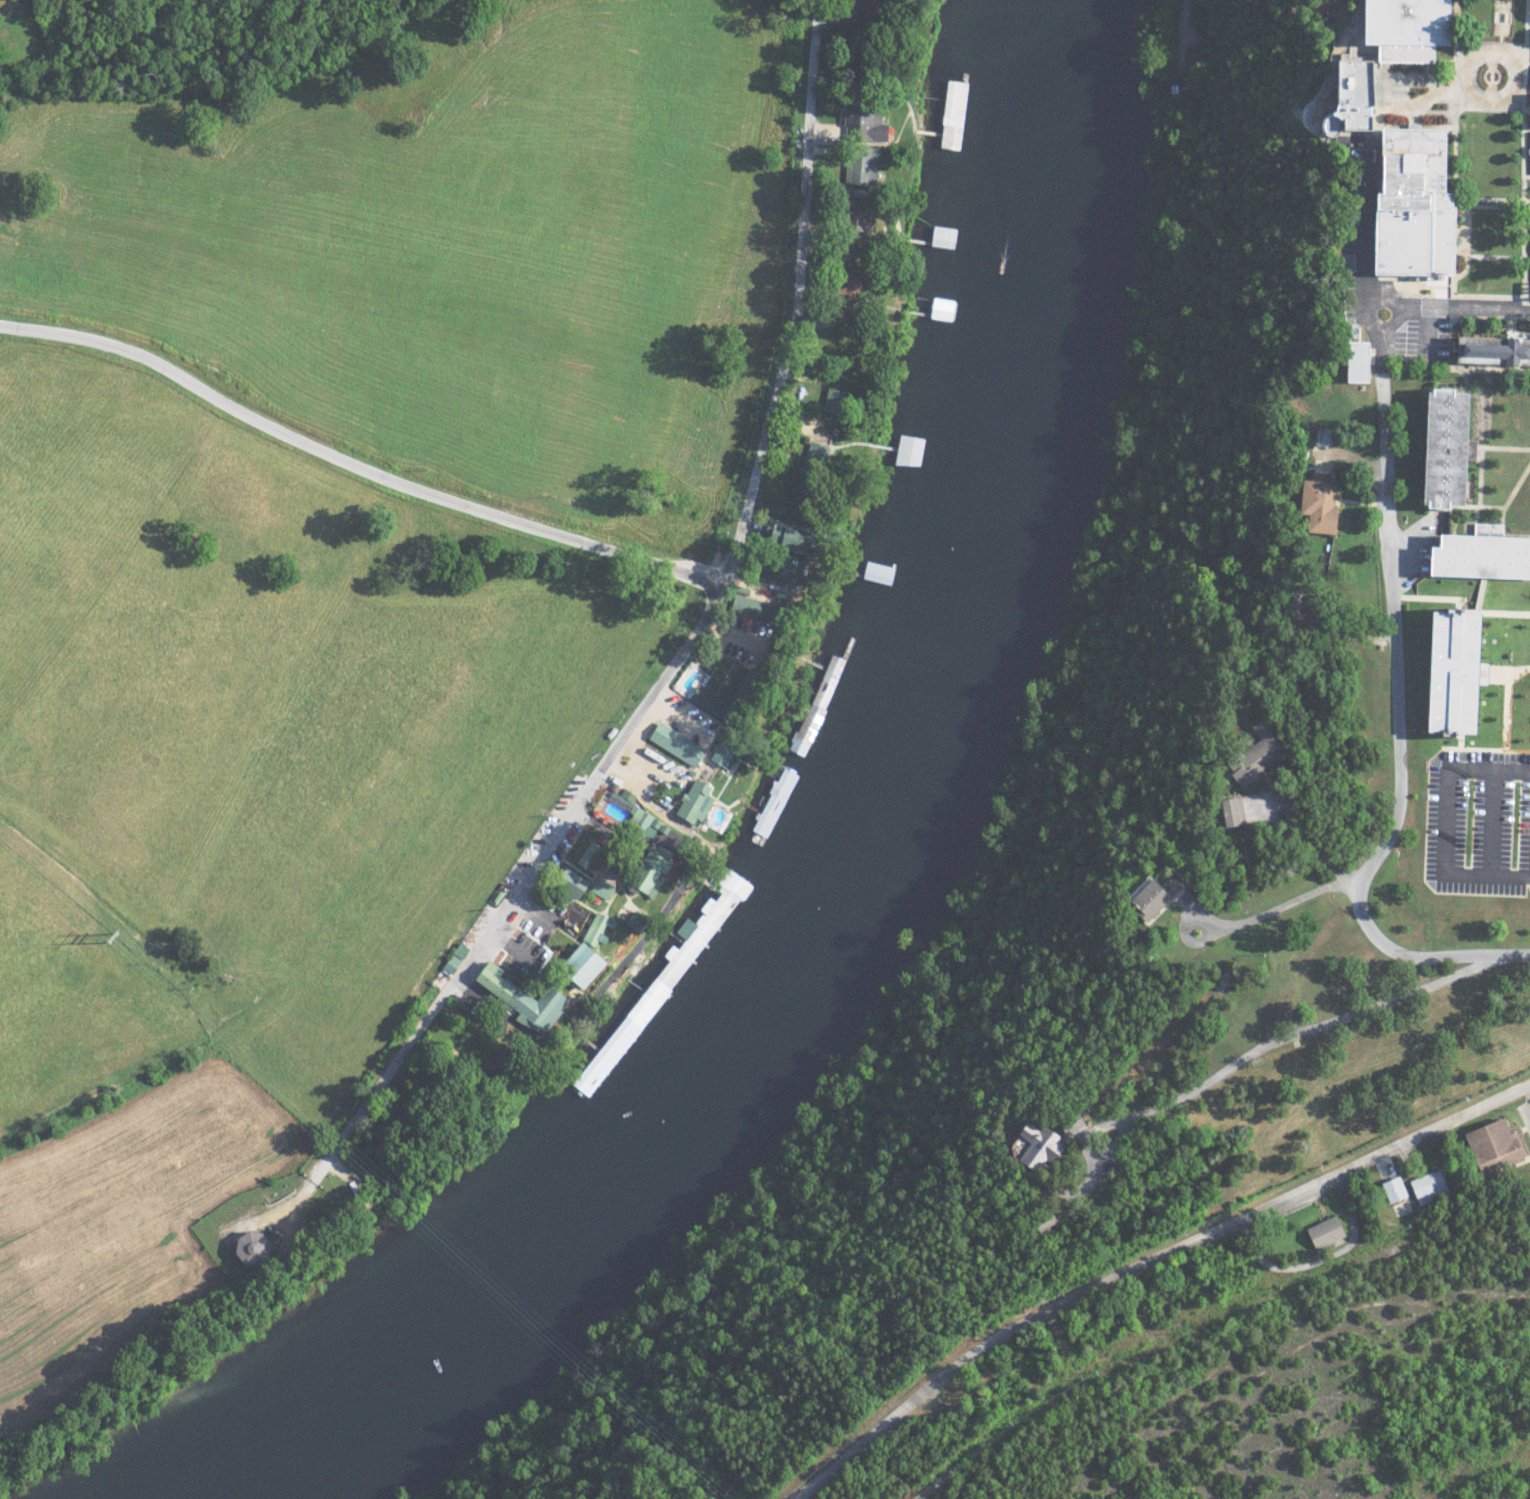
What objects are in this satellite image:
building: (1395, 28)
building: (1342, 94)
building: (1527, 111)
building: (860, 125)
building: (858, 165)
building: (1400, 203)
building: (851, 221)
road: (1365, 230)
road: (1463, 308)
road: (1396, 317)
road: (1513, 330)
building: (1497, 347)
building: (1350, 360)
road: (1512, 363)
road: (1484, 440)
road: (1502, 440)
building: (1452, 446)
building: (814, 450)
building: (906, 450)
road: (356, 466)
road: (1516, 480)
road: (1479, 489)
building: (1314, 502)
road: (1478, 509)
road: (1489, 516)
building: (1491, 523)
road: (1518, 526)
building: (781, 536)
building: (1481, 551)
building: (785, 579)
road: (1469, 603)
road: (1485, 607)
road: (693, 642)
road: (1505, 659)
building: (1455, 667)
road: (1522, 669)
road: (1506, 708)
road: (1397, 718)
road: (1483, 738)
building: (673, 744)
building: (718, 754)
building: (1252, 755)
building: (691, 803)
building: (772, 804)
building: (1228, 811)
parking lot: (1476, 813)
road: (1491, 815)
building: (631, 816)
road: (1444, 816)
river: (859, 872)
building: (645, 874)
building: (567, 883)
building: (734, 886)
building: (597, 888)
building: (1149, 897)
road: (1284, 899)
building: (594, 930)
power tower: (116, 941)
building: (452, 958)
building: (574, 966)
building: (517, 999)
road: (1292, 1030)
building: (1069, 1122)
building: (1039, 1145)
building: (1490, 1146)
building: (1428, 1187)
building: (1392, 1189)
building: (1045, 1222)
building: (1320, 1233)
building: (261, 1247)
road: (1143, 1263)
road: (915, 1496)

